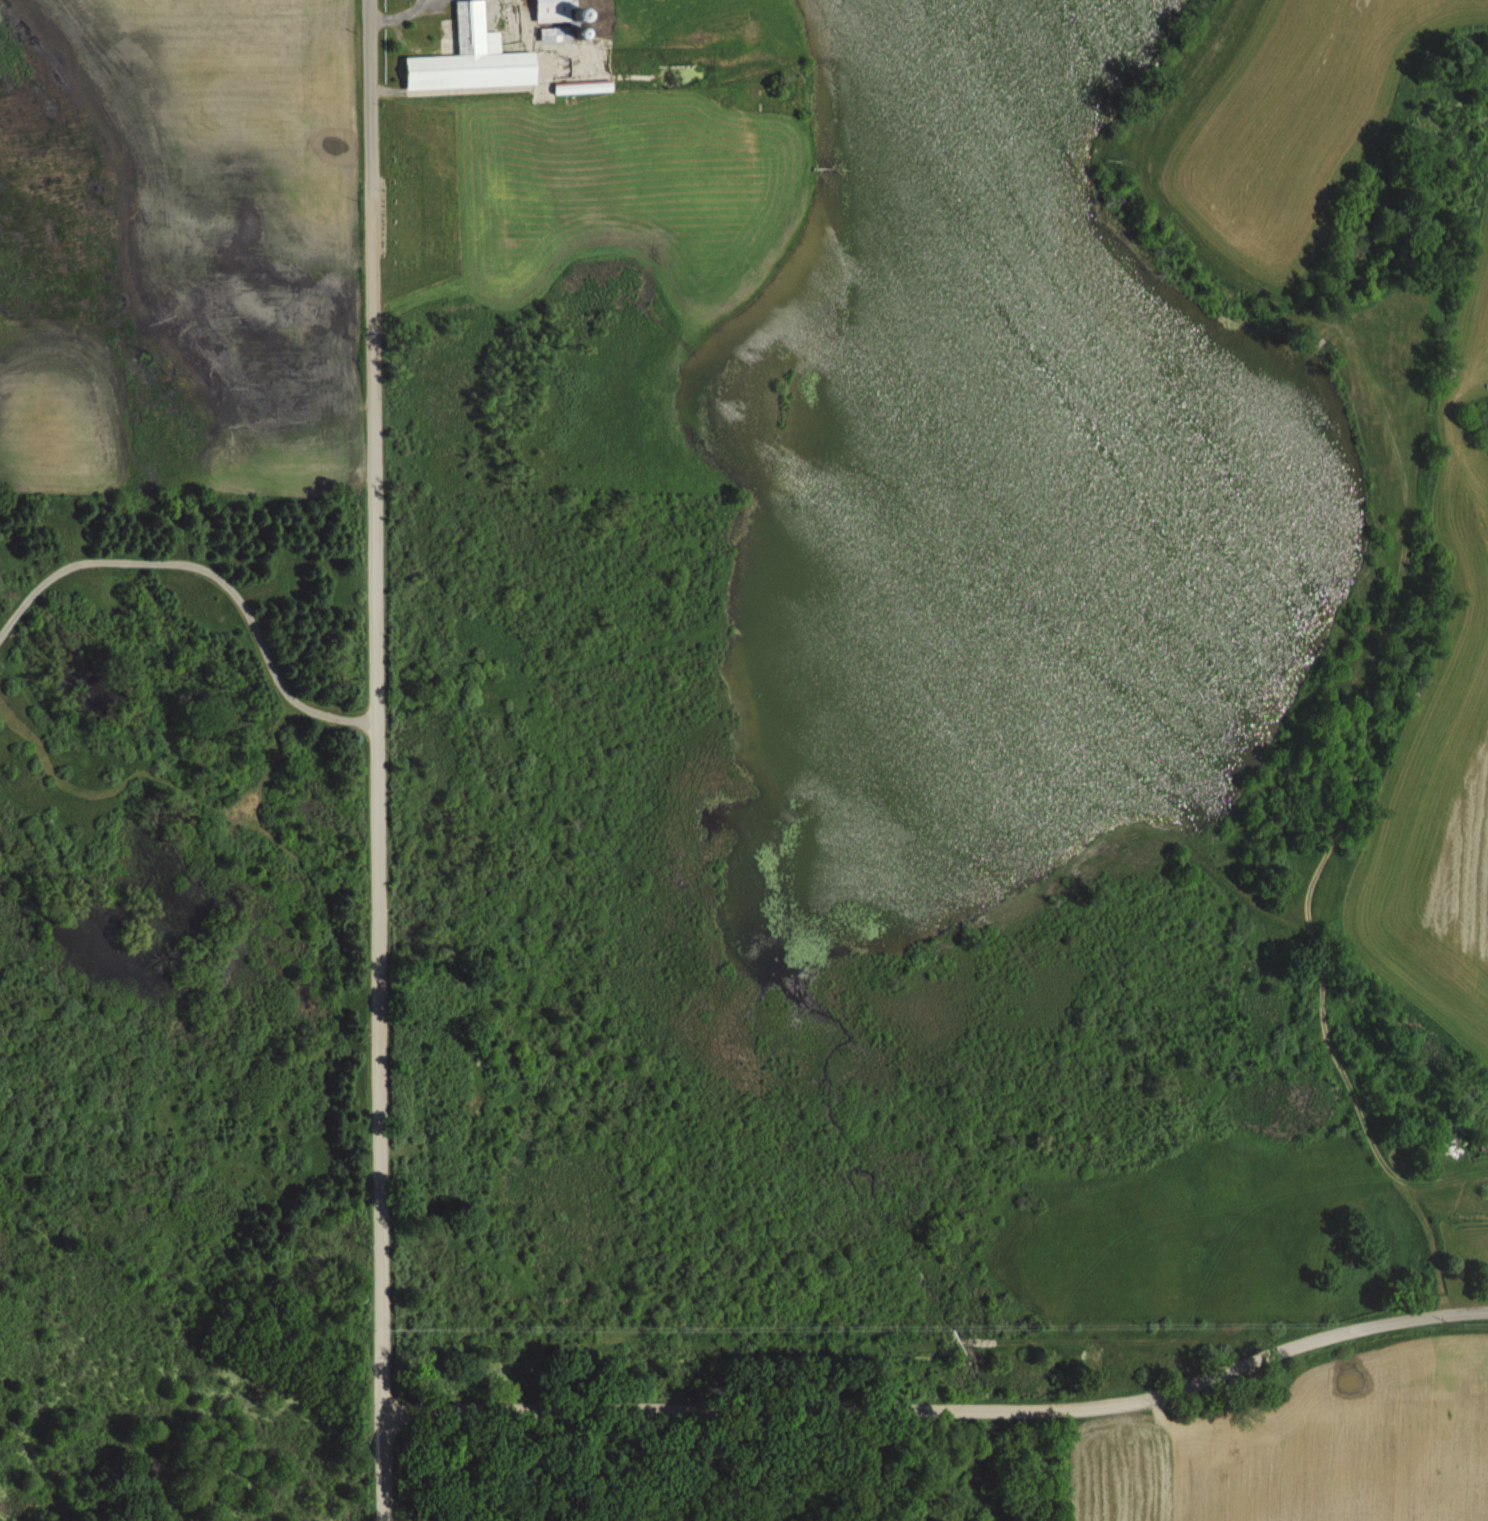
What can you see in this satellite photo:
building: (553, 10)
building: (556, 34)
building: (473, 58)
building: (584, 87)
road: (211, 572)
road: (376, 760)
road: (943, 1408)

